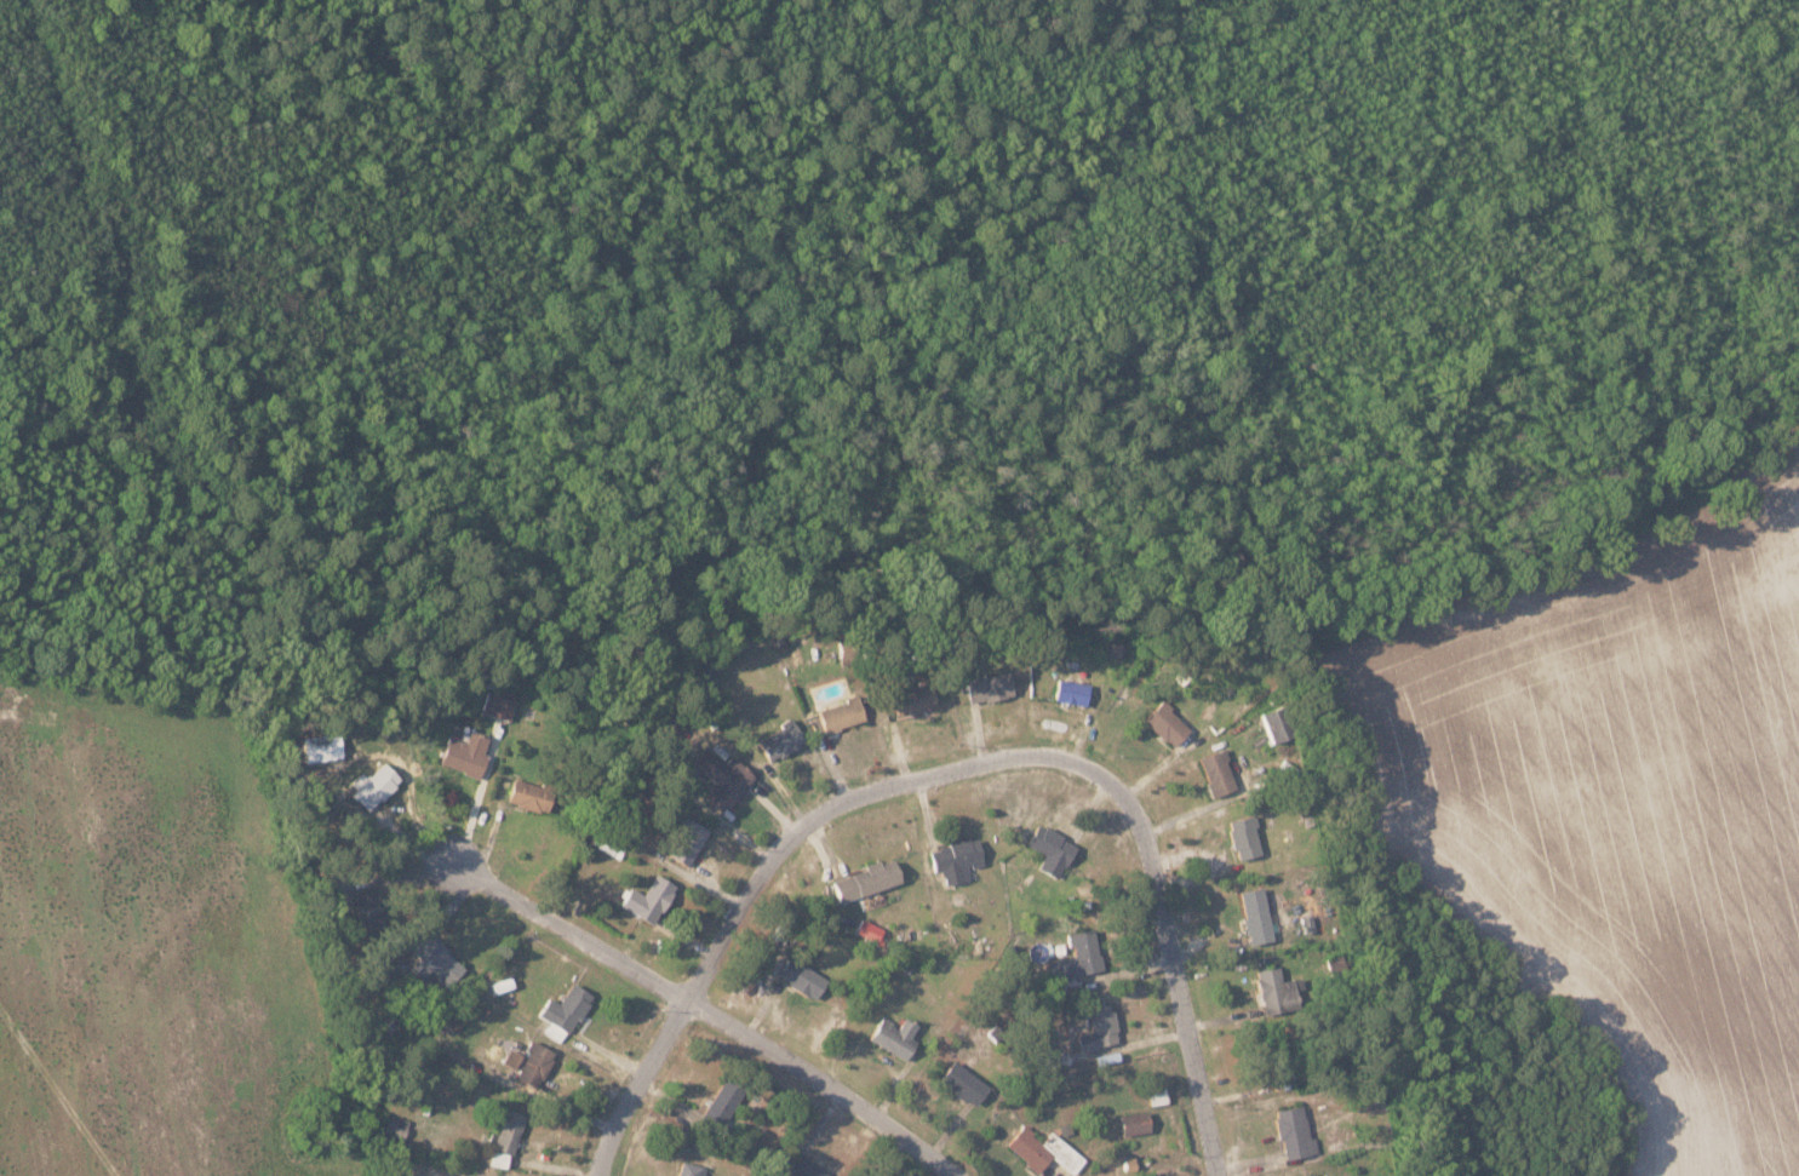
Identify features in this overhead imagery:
building: (990, 687)
building: (1073, 692)
building: (916, 696)
building: (498, 702)
building: (842, 715)
building: (1168, 724)
building: (1277, 725)
building: (781, 741)
building: (322, 747)
building: (466, 753)
road: (1056, 755)
building: (1219, 773)
building: (727, 780)
building: (376, 785)
building: (532, 796)
building: (1247, 837)
building: (689, 842)
building: (1053, 850)
building: (957, 860)
building: (869, 880)
building: (651, 900)
building: (369, 910)
building: (1257, 916)
road: (572, 929)
building: (1078, 956)
building: (435, 959)
building: (803, 979)
building: (1277, 991)
building: (566, 1011)
building: (1100, 1026)
building: (896, 1036)
building: (531, 1062)
building: (966, 1082)
road: (638, 1085)
road: (820, 1088)
building: (724, 1100)
building: (1136, 1121)
building: (397, 1125)
building: (509, 1130)
building: (1295, 1130)
building: (1045, 1149)
building: (802, 1166)
building: (689, 1169)
building: (1304, 1174)

